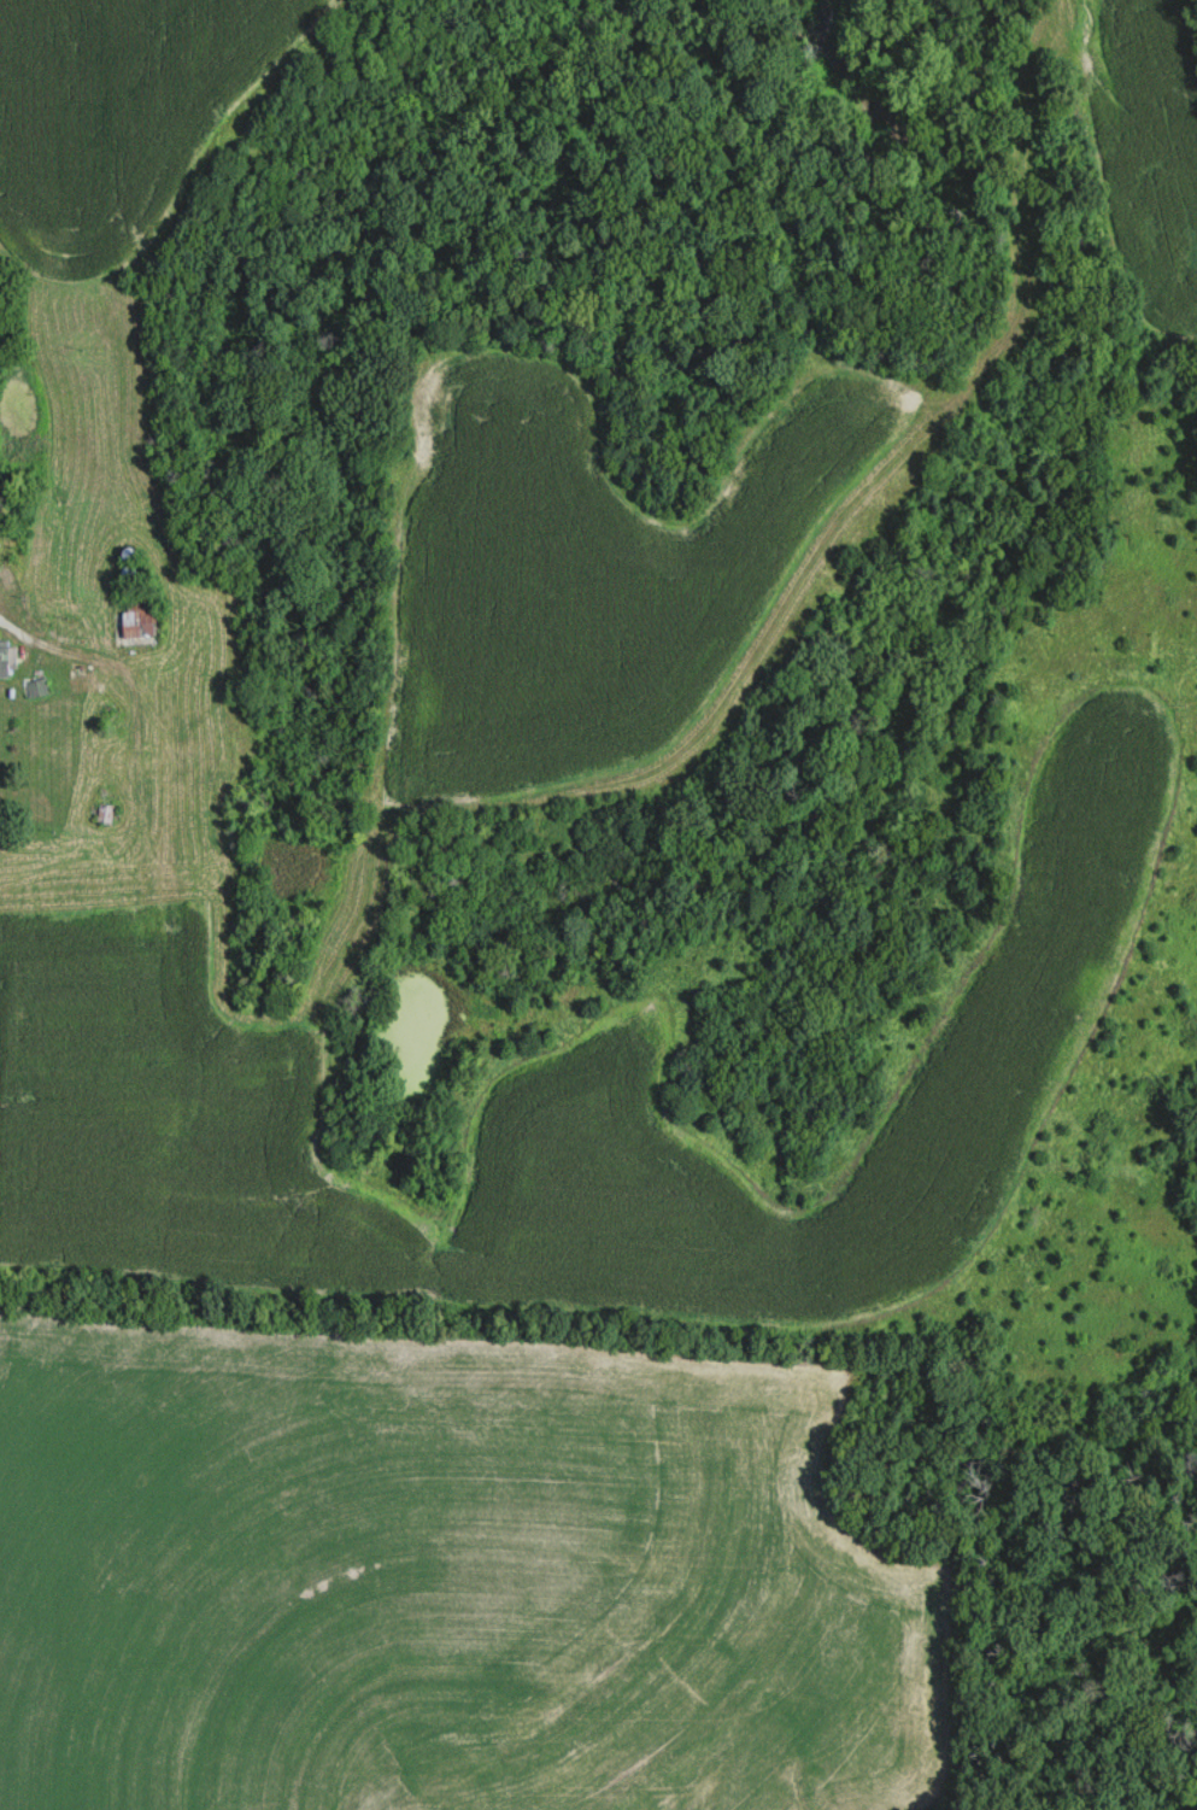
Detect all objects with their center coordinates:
building: (0, 551)
building: (7, 660)
road: (112, 663)
building: (37, 686)
building: (106, 815)
crop: (456, 1582)

